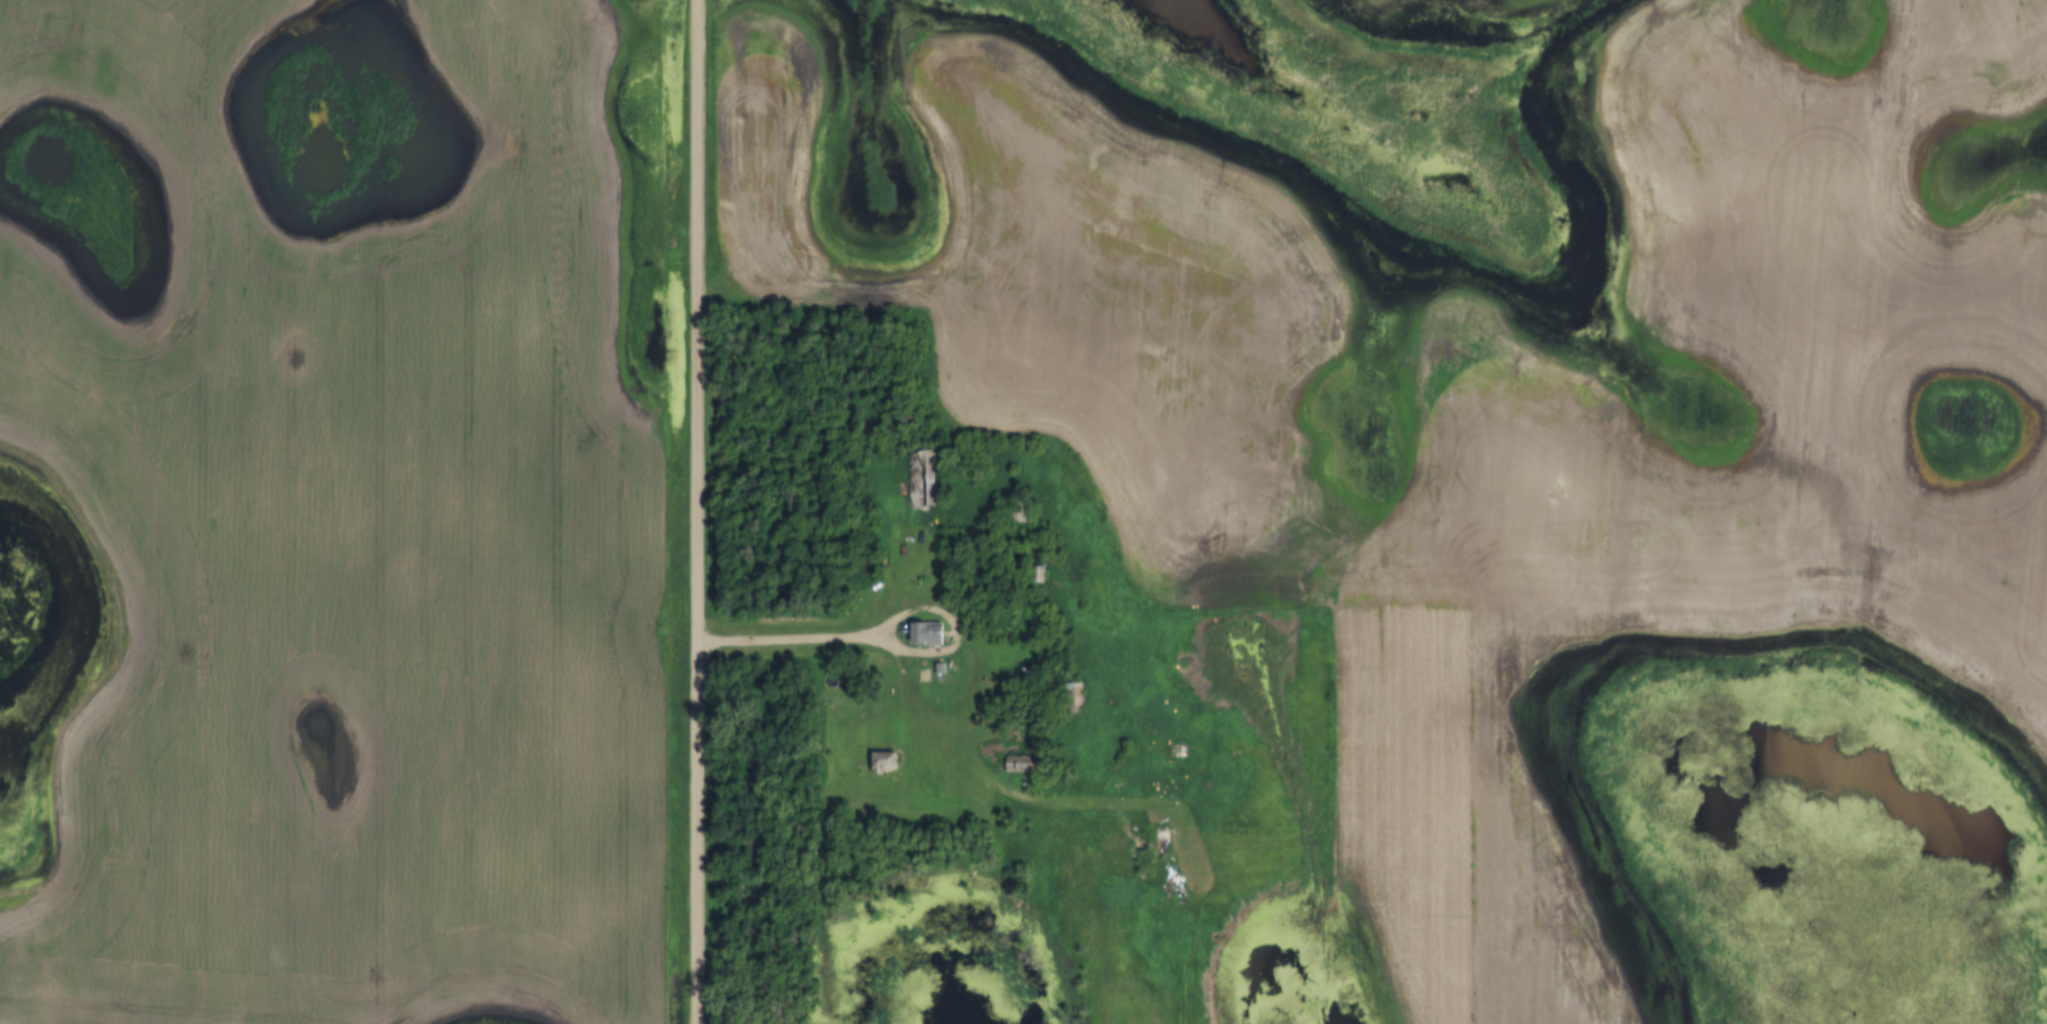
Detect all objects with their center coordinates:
road: (695, 512)
road: (879, 625)
building: (928, 632)
building: (884, 761)

